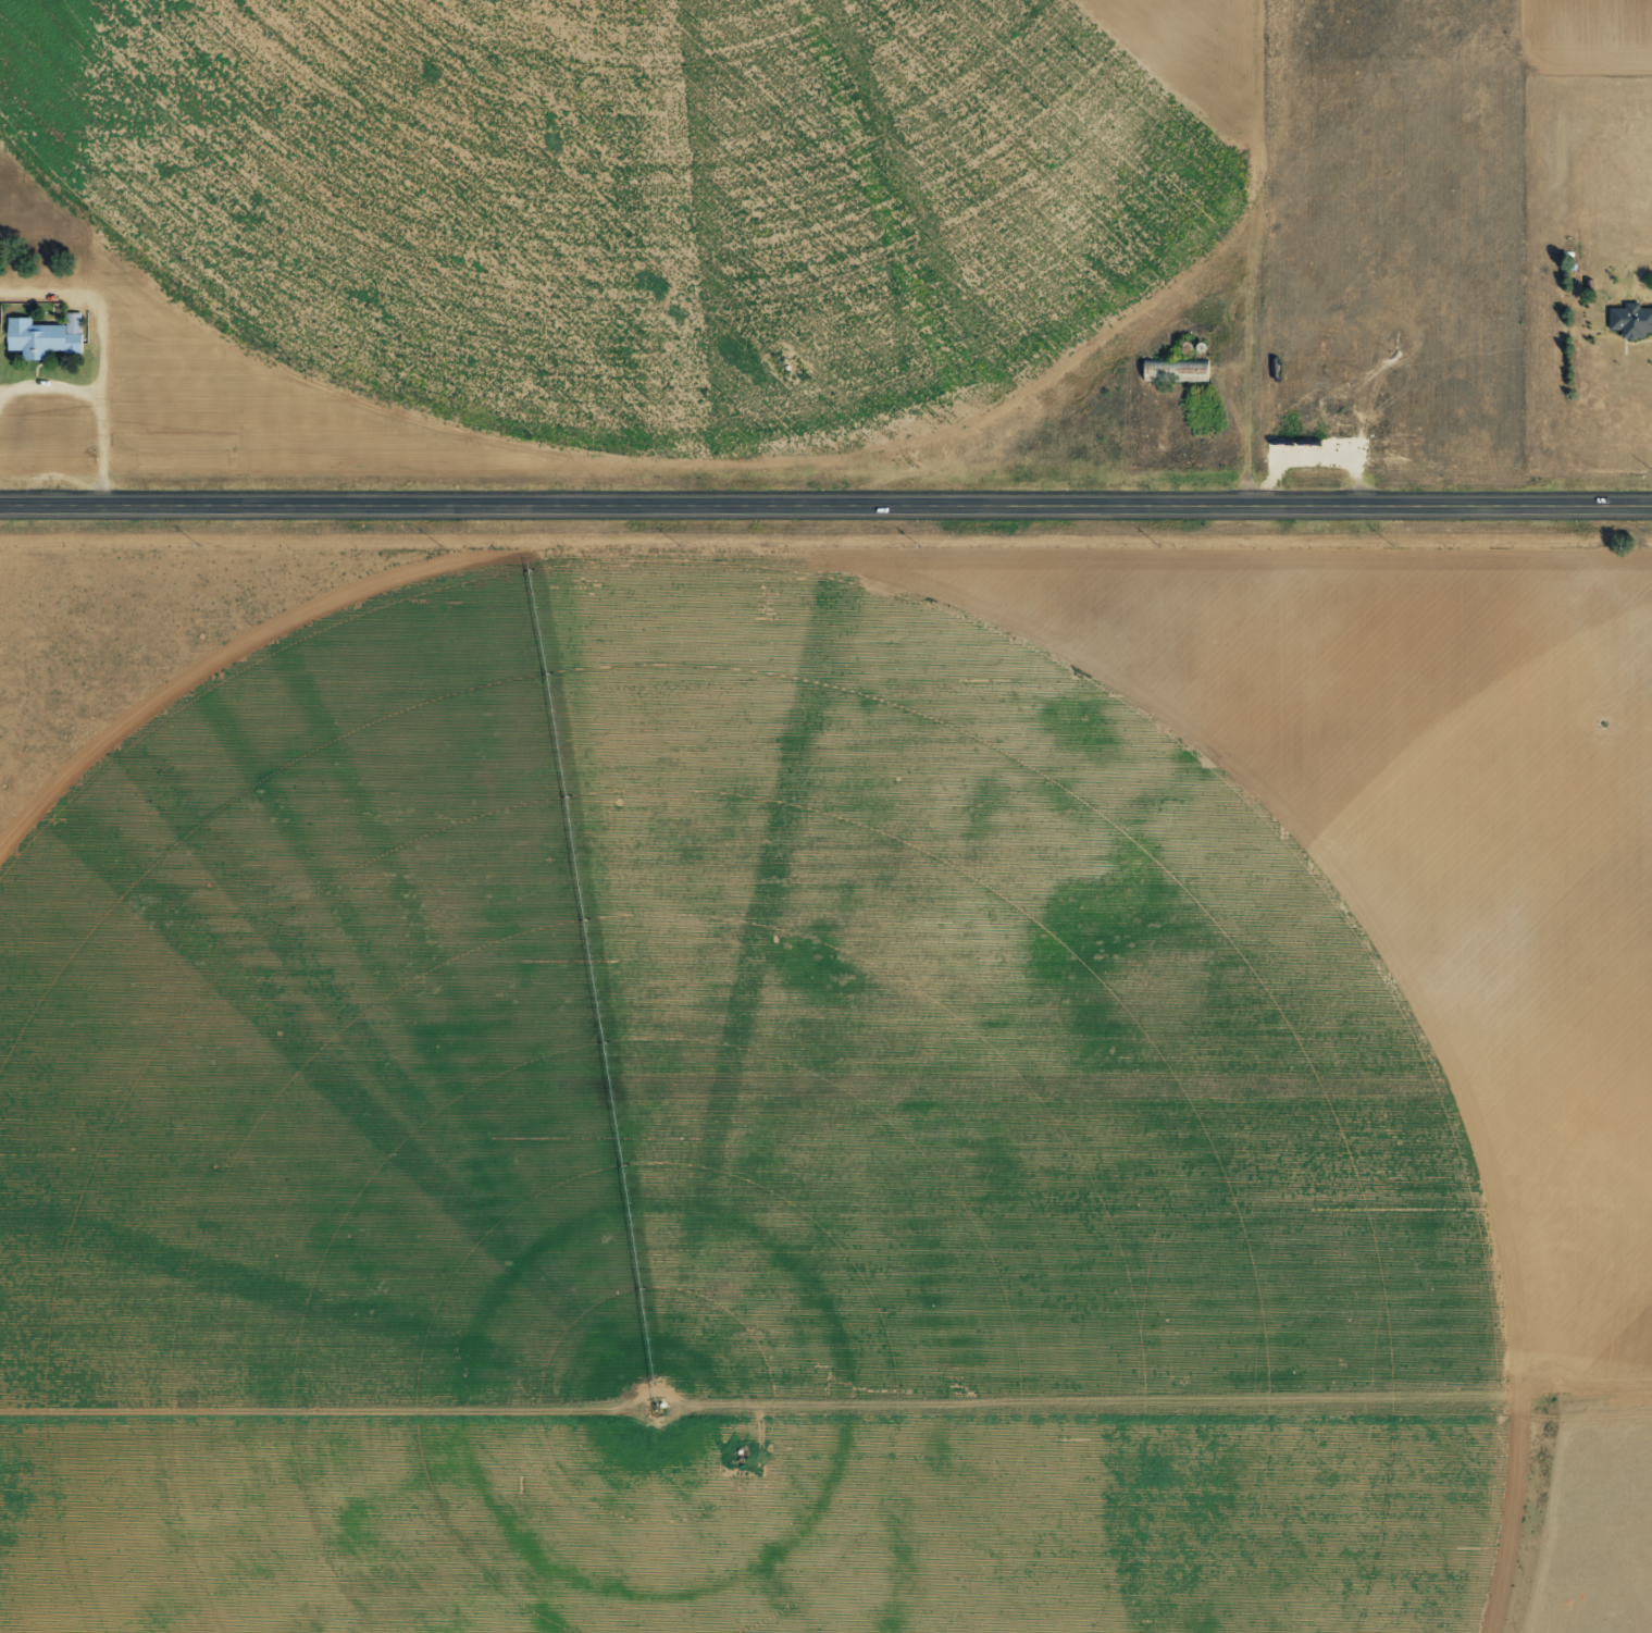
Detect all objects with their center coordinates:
building: (46, 337)
road: (104, 350)
road: (825, 503)

